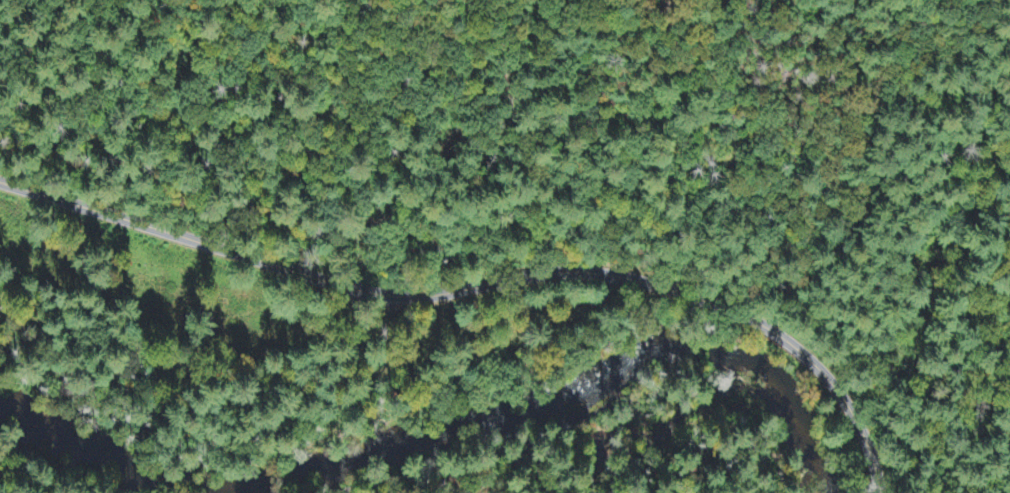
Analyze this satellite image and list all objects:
road: (484, 285)
river: (441, 395)
road: (1, 491)

